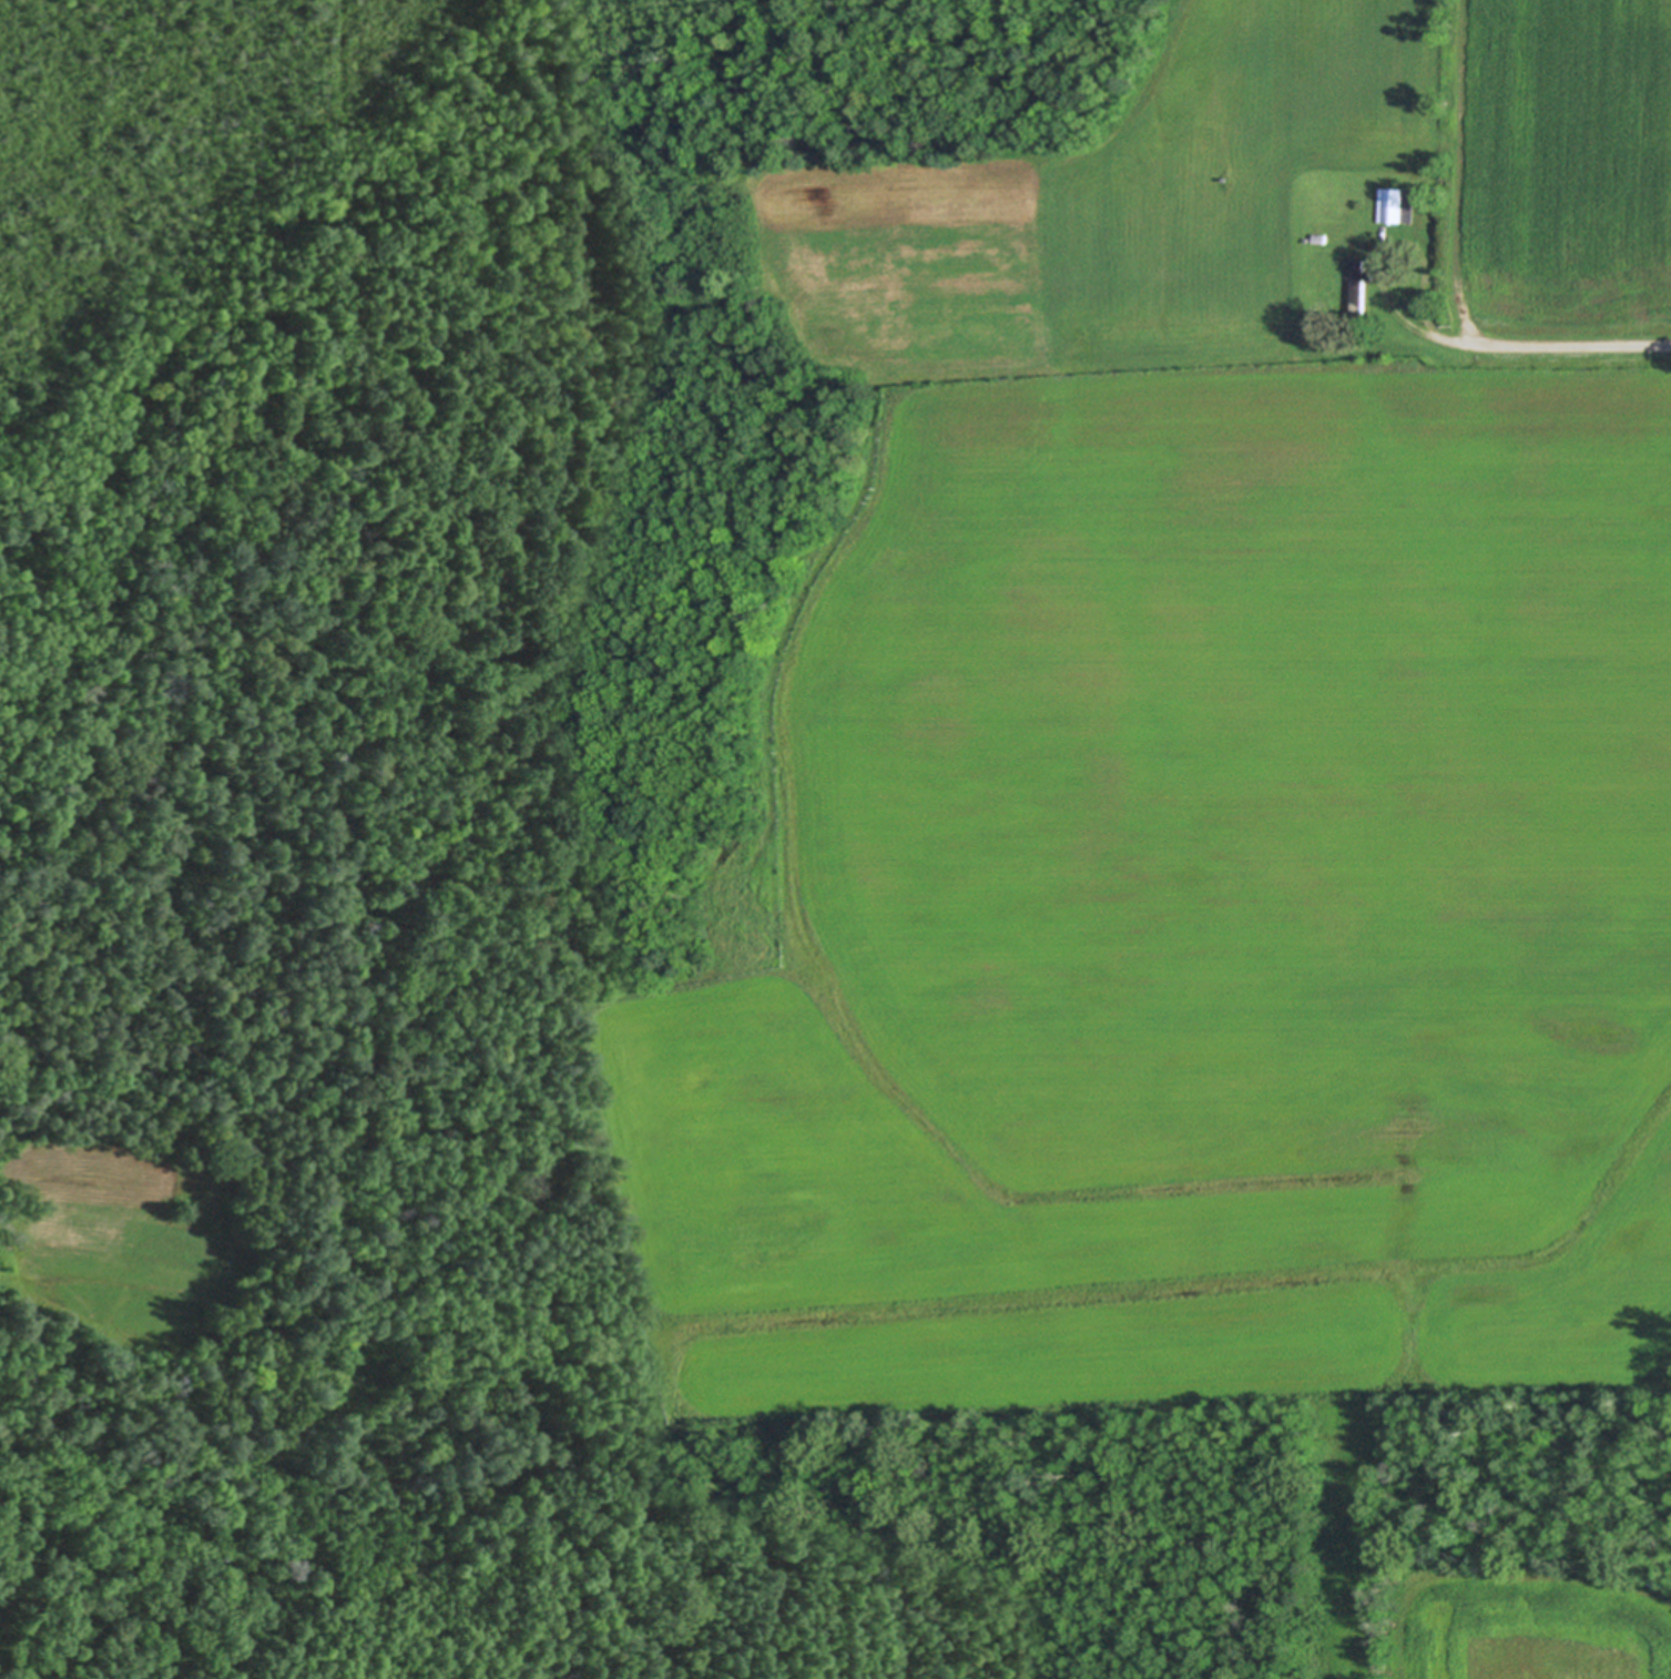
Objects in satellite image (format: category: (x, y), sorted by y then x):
building: (1400, 202)
building: (1324, 236)
building: (1364, 283)
road: (1577, 344)

